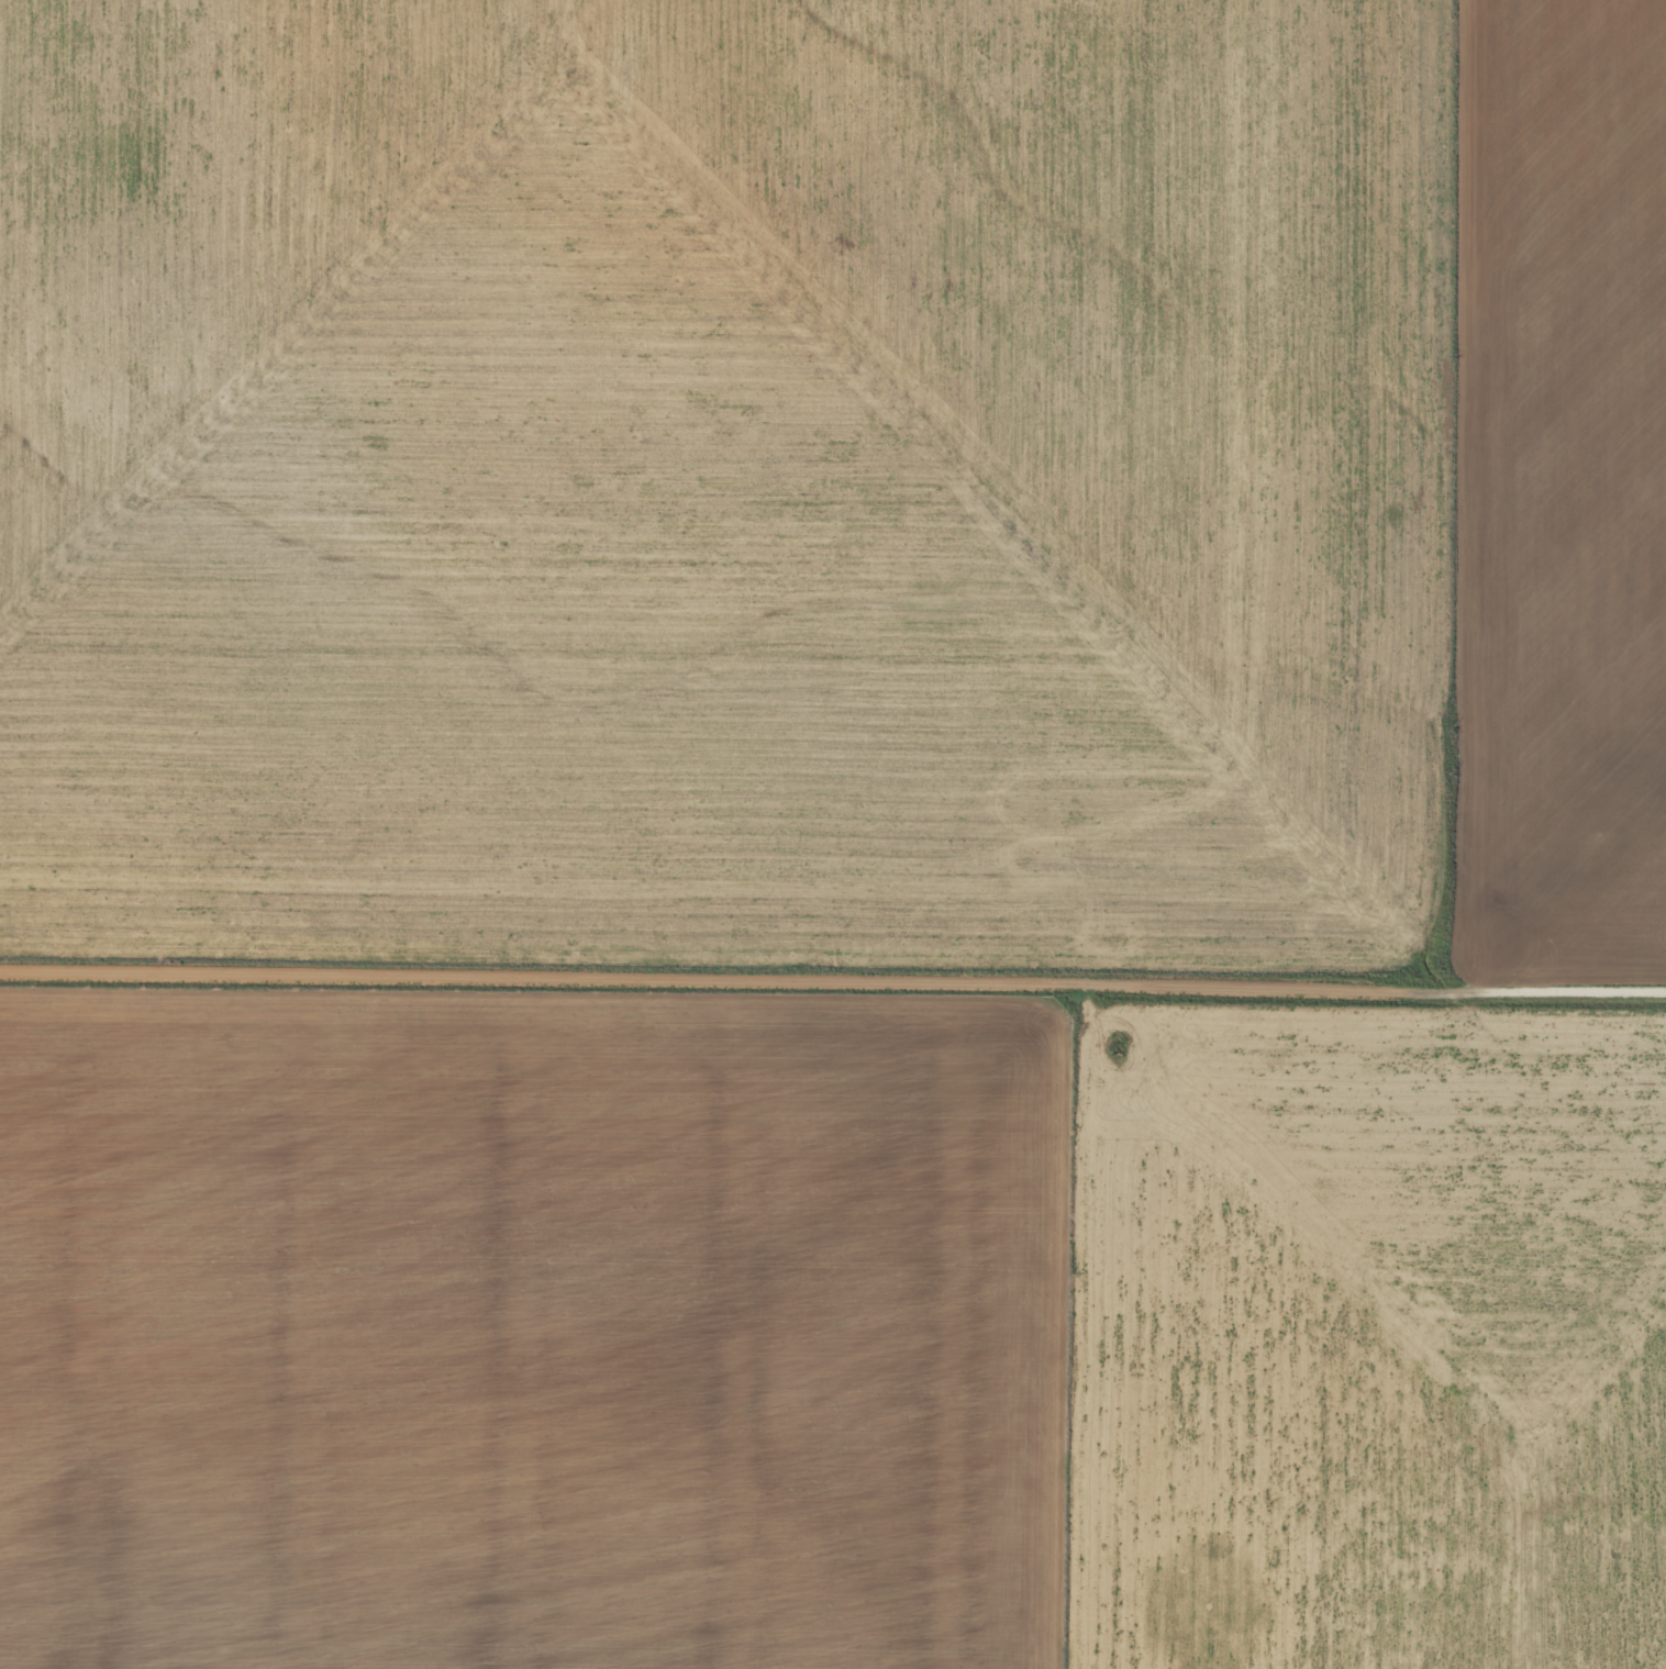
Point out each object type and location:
road: (832, 978)

